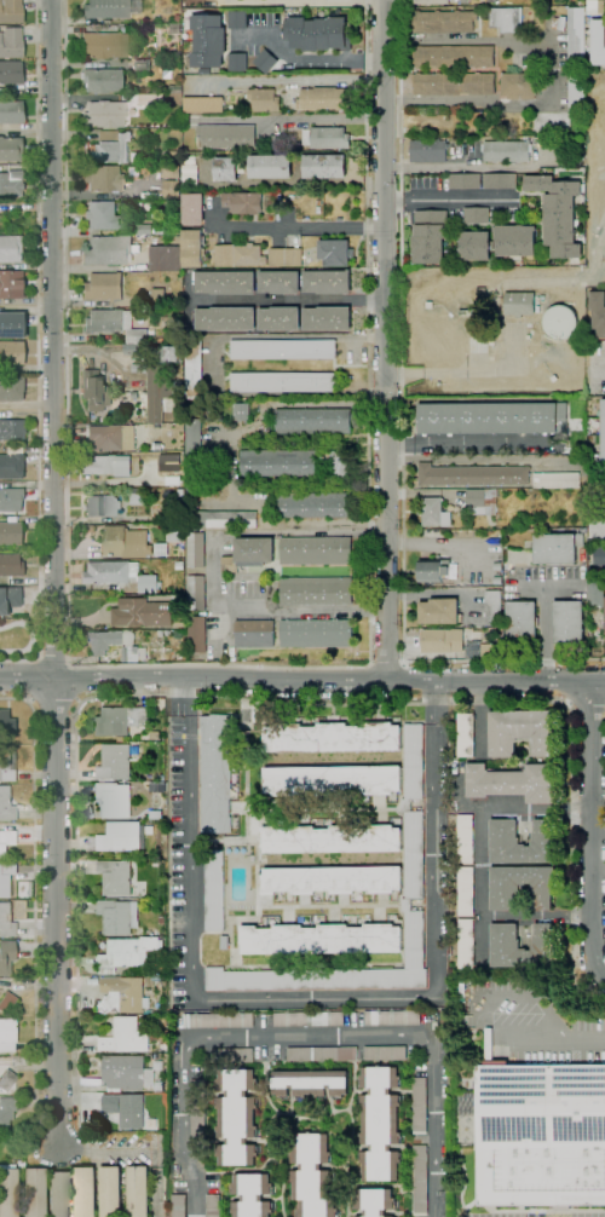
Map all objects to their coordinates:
building: (344, 0)
building: (581, 1)
building: (431, 2)
building: (460, 2)
building: (595, 6)
building: (134, 7)
building: (104, 8)
building: (11, 11)
building: (206, 13)
building: (178, 19)
building: (237, 19)
building: (505, 19)
building: (440, 22)
building: (174, 29)
building: (317, 34)
building: (576, 38)
road: (455, 40)
building: (10, 41)
building: (595, 41)
building: (208, 42)
building: (104, 44)
building: (453, 57)
road: (304, 58)
building: (265, 62)
building: (237, 63)
building: (143, 64)
building: (11, 71)
building: (100, 80)
building: (454, 83)
building: (518, 86)
building: (576, 92)
building: (152, 99)
building: (323, 99)
building: (264, 100)
building: (202, 105)
building: (11, 111)
building: (104, 114)
road: (294, 117)
building: (133, 125)
building: (226, 135)
building: (325, 138)
building: (277, 142)
building: (536, 145)
building: (111, 148)
building: (10, 149)
building: (507, 151)
building: (428, 152)
building: (137, 157)
building: (270, 167)
building: (324, 167)
road: (463, 167)
building: (226, 169)
building: (133, 171)
building: (171, 172)
building: (548, 172)
building: (102, 178)
building: (189, 180)
building: (465, 181)
building: (500, 181)
building: (11, 183)
building: (172, 189)
building: (148, 196)
road: (450, 201)
building: (243, 202)
building: (192, 209)
building: (559, 210)
building: (103, 214)
building: (476, 215)
building: (340, 220)
road: (290, 227)
building: (144, 229)
road: (374, 229)
building: (157, 230)
building: (430, 237)
building: (517, 241)
building: (473, 246)
building: (10, 248)
building: (194, 248)
building: (109, 249)
building: (335, 253)
building: (240, 255)
building: (286, 256)
building: (166, 258)
building: (485, 264)
building: (226, 282)
building: (280, 282)
building: (327, 282)
building: (11, 283)
building: (104, 285)
building: (159, 298)
road: (294, 300)
building: (520, 304)
building: (430, 305)
building: (479, 305)
building: (598, 313)
building: (226, 318)
building: (280, 318)
building: (328, 318)
building: (108, 321)
road: (500, 322)
building: (560, 322)
building: (11, 324)
road: (38, 327)
road: (65, 330)
building: (137, 336)
building: (529, 336)
road: (386, 340)
building: (491, 342)
building: (604, 342)
building: (138, 348)
building: (283, 350)
building: (111, 351)
building: (11, 353)
building: (168, 353)
building: (215, 362)
building: (194, 365)
road: (597, 370)
building: (554, 379)
building: (283, 382)
building: (11, 387)
building: (172, 390)
building: (94, 391)
building: (155, 392)
building: (134, 396)
building: (212, 411)
building: (240, 411)
building: (491, 417)
building: (313, 421)
road: (249, 426)
building: (11, 428)
road: (402, 431)
building: (601, 433)
building: (192, 434)
building: (111, 437)
road: (473, 443)
building: (156, 446)
building: (595, 451)
building: (168, 463)
building: (278, 463)
building: (336, 463)
building: (108, 465)
building: (11, 466)
building: (194, 474)
building: (473, 474)
building: (557, 480)
road: (368, 484)
building: (598, 484)
building: (137, 495)
building: (163, 495)
building: (10, 498)
building: (483, 500)
building: (315, 504)
building: (102, 506)
building: (137, 511)
building: (434, 513)
building: (597, 515)
building: (223, 519)
building: (87, 527)
building: (580, 531)
building: (10, 532)
building: (175, 535)
road: (604, 536)
building: (125, 542)
building: (558, 548)
building: (160, 549)
building: (196, 549)
building: (317, 550)
building: (183, 554)
building: (249, 554)
building: (600, 555)
building: (10, 565)
building: (179, 566)
building: (499, 566)
building: (433, 570)
road: (213, 572)
road: (51, 573)
building: (111, 573)
building: (497, 579)
building: (148, 583)
building: (316, 590)
building: (595, 592)
building: (196, 593)
building: (8, 596)
building: (494, 608)
building: (439, 611)
building: (143, 613)
building: (604, 618)
building: (569, 622)
building: (522, 623)
building: (197, 634)
building: (254, 634)
building: (316, 634)
building: (6, 636)
building: (446, 640)
building: (103, 641)
building: (490, 648)
road: (53, 653)
building: (131, 653)
road: (21, 661)
road: (387, 661)
road: (30, 680)
road: (301, 681)
road: (565, 681)
road: (75, 684)
building: (145, 699)
road: (54, 700)
road: (265, 702)
road: (584, 704)
building: (246, 716)
building: (121, 720)
building: (6, 723)
building: (522, 731)
building: (155, 734)
building: (466, 734)
building: (325, 736)
building: (116, 761)
building: (6, 763)
building: (217, 773)
building: (335, 780)
building: (513, 781)
building: (154, 795)
building: (117, 800)
building: (5, 804)
building: (163, 815)
road: (592, 831)
building: (122, 836)
building: (333, 838)
building: (466, 838)
building: (6, 840)
building: (506, 842)
building: (414, 854)
building: (116, 876)
building: (5, 878)
building: (334, 878)
building: (466, 890)
building: (507, 890)
building: (214, 892)
road: (34, 899)
building: (117, 916)
building: (6, 921)
building: (161, 921)
building: (321, 938)
building: (224, 941)
building: (467, 944)
building: (506, 946)
building: (127, 954)
building: (6, 956)
building: (125, 993)
road: (309, 994)
building: (6, 1000)
building: (393, 1017)
building: (310, 1019)
building: (218, 1020)
building: (445, 1021)
parking lot: (538, 1033)
building: (7, 1034)
building: (129, 1034)
road: (305, 1037)
road: (559, 1040)
building: (385, 1052)
building: (229, 1054)
building: (322, 1054)
building: (128, 1072)
building: (6, 1080)
building: (311, 1082)
building: (160, 1097)
building: (420, 1104)
building: (6, 1111)
building: (132, 1112)
building: (105, 1113)
building: (198, 1113)
building: (237, 1117)
building: (380, 1123)
building: (541, 1132)
road: (139, 1150)
building: (312, 1175)
building: (419, 1178)
building: (111, 1190)
building: (139, 1190)
building: (8, 1192)
building: (33, 1192)
building: (86, 1192)
building: (58, 1194)
building: (252, 1194)
building: (374, 1201)
building: (179, 1206)
building: (213, 1206)
parking lot: (544, 1216)

